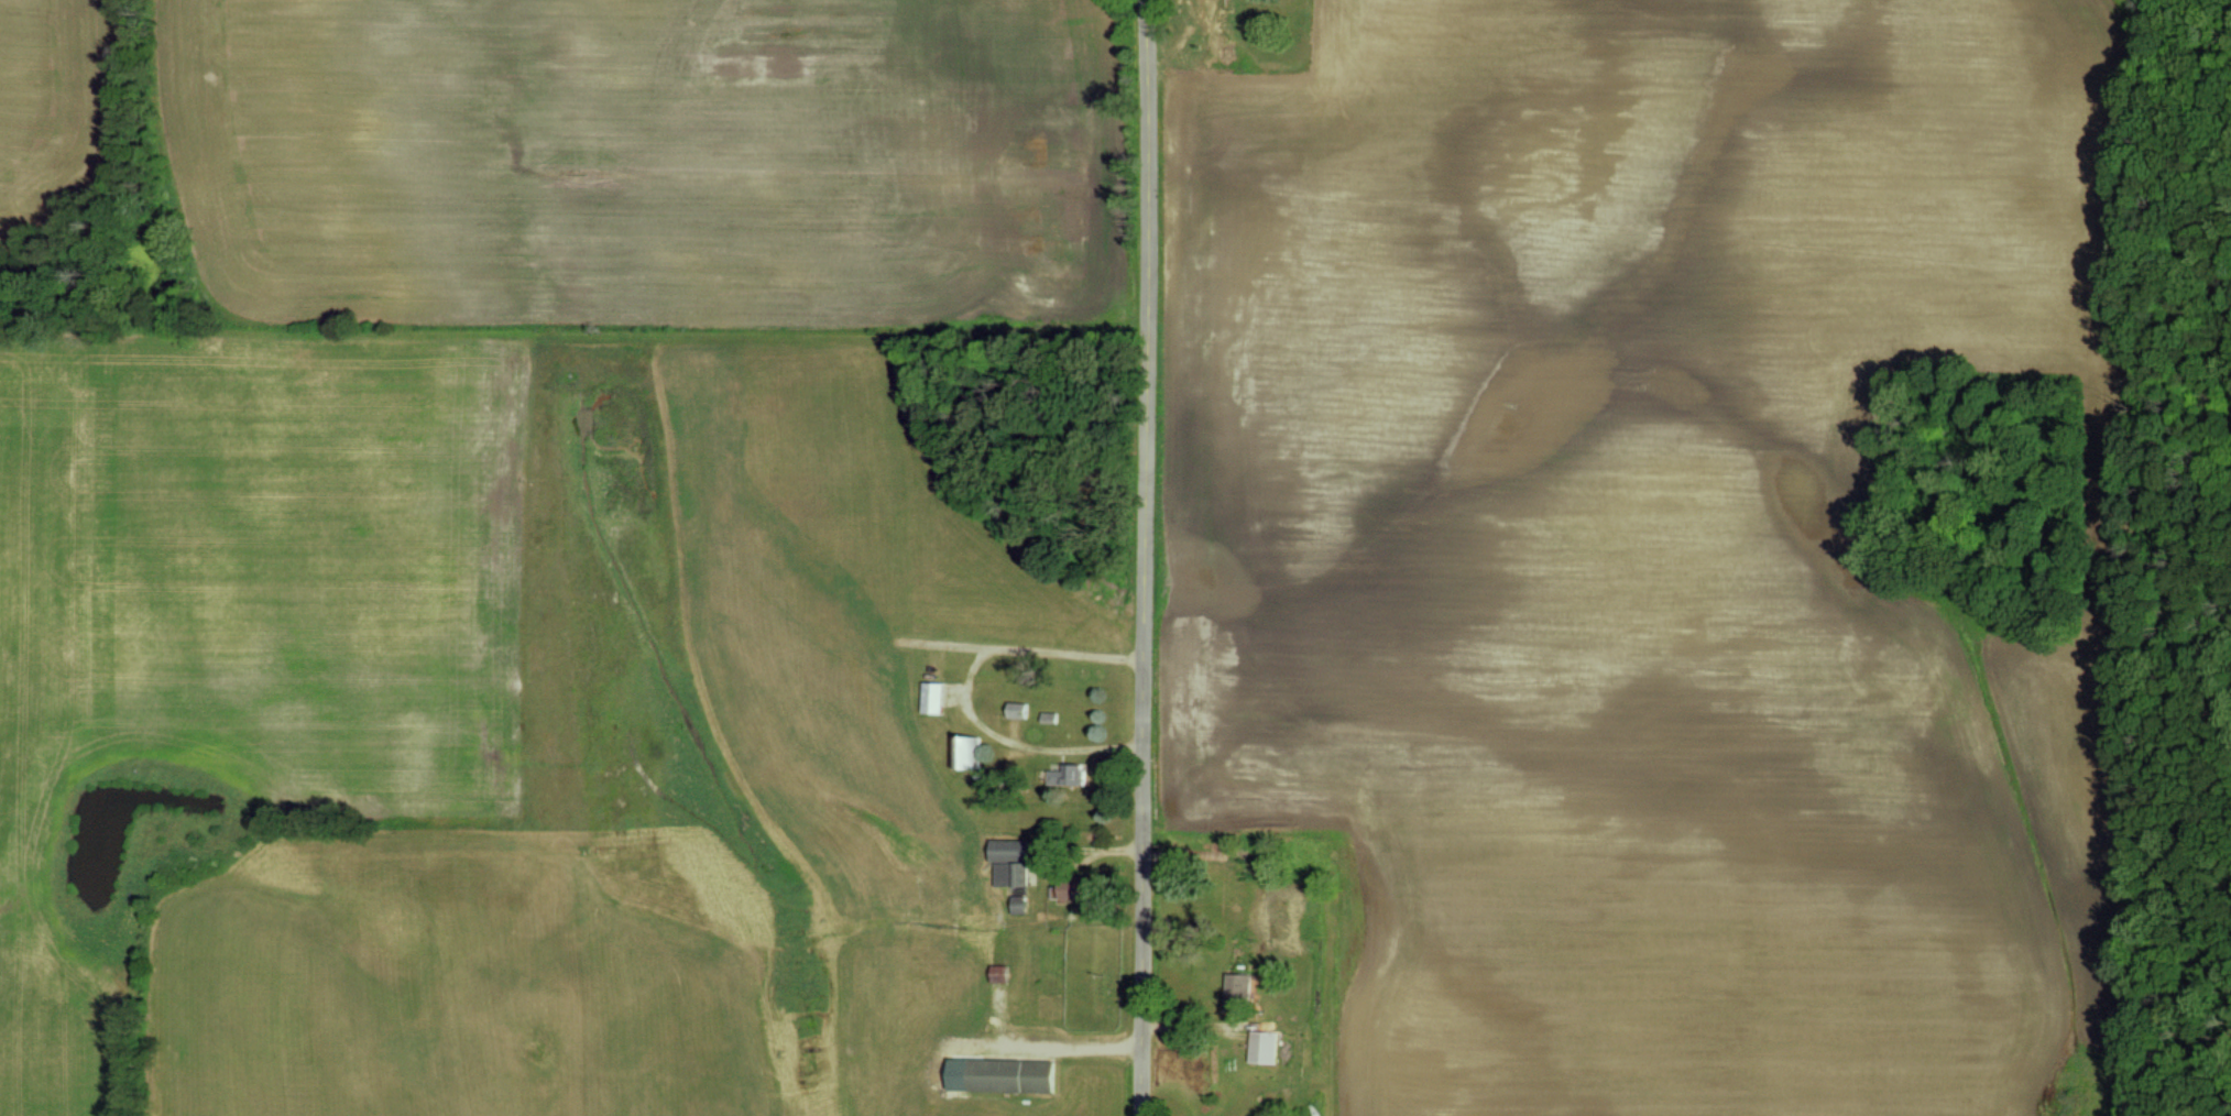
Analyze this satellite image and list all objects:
road: (1146, 557)
road: (966, 691)
building: (932, 698)
building: (1016, 710)
building: (965, 753)
building: (1067, 775)
building: (1062, 891)
building: (1017, 904)
building: (1236, 991)
building: (1262, 1048)
building: (1000, 1075)

